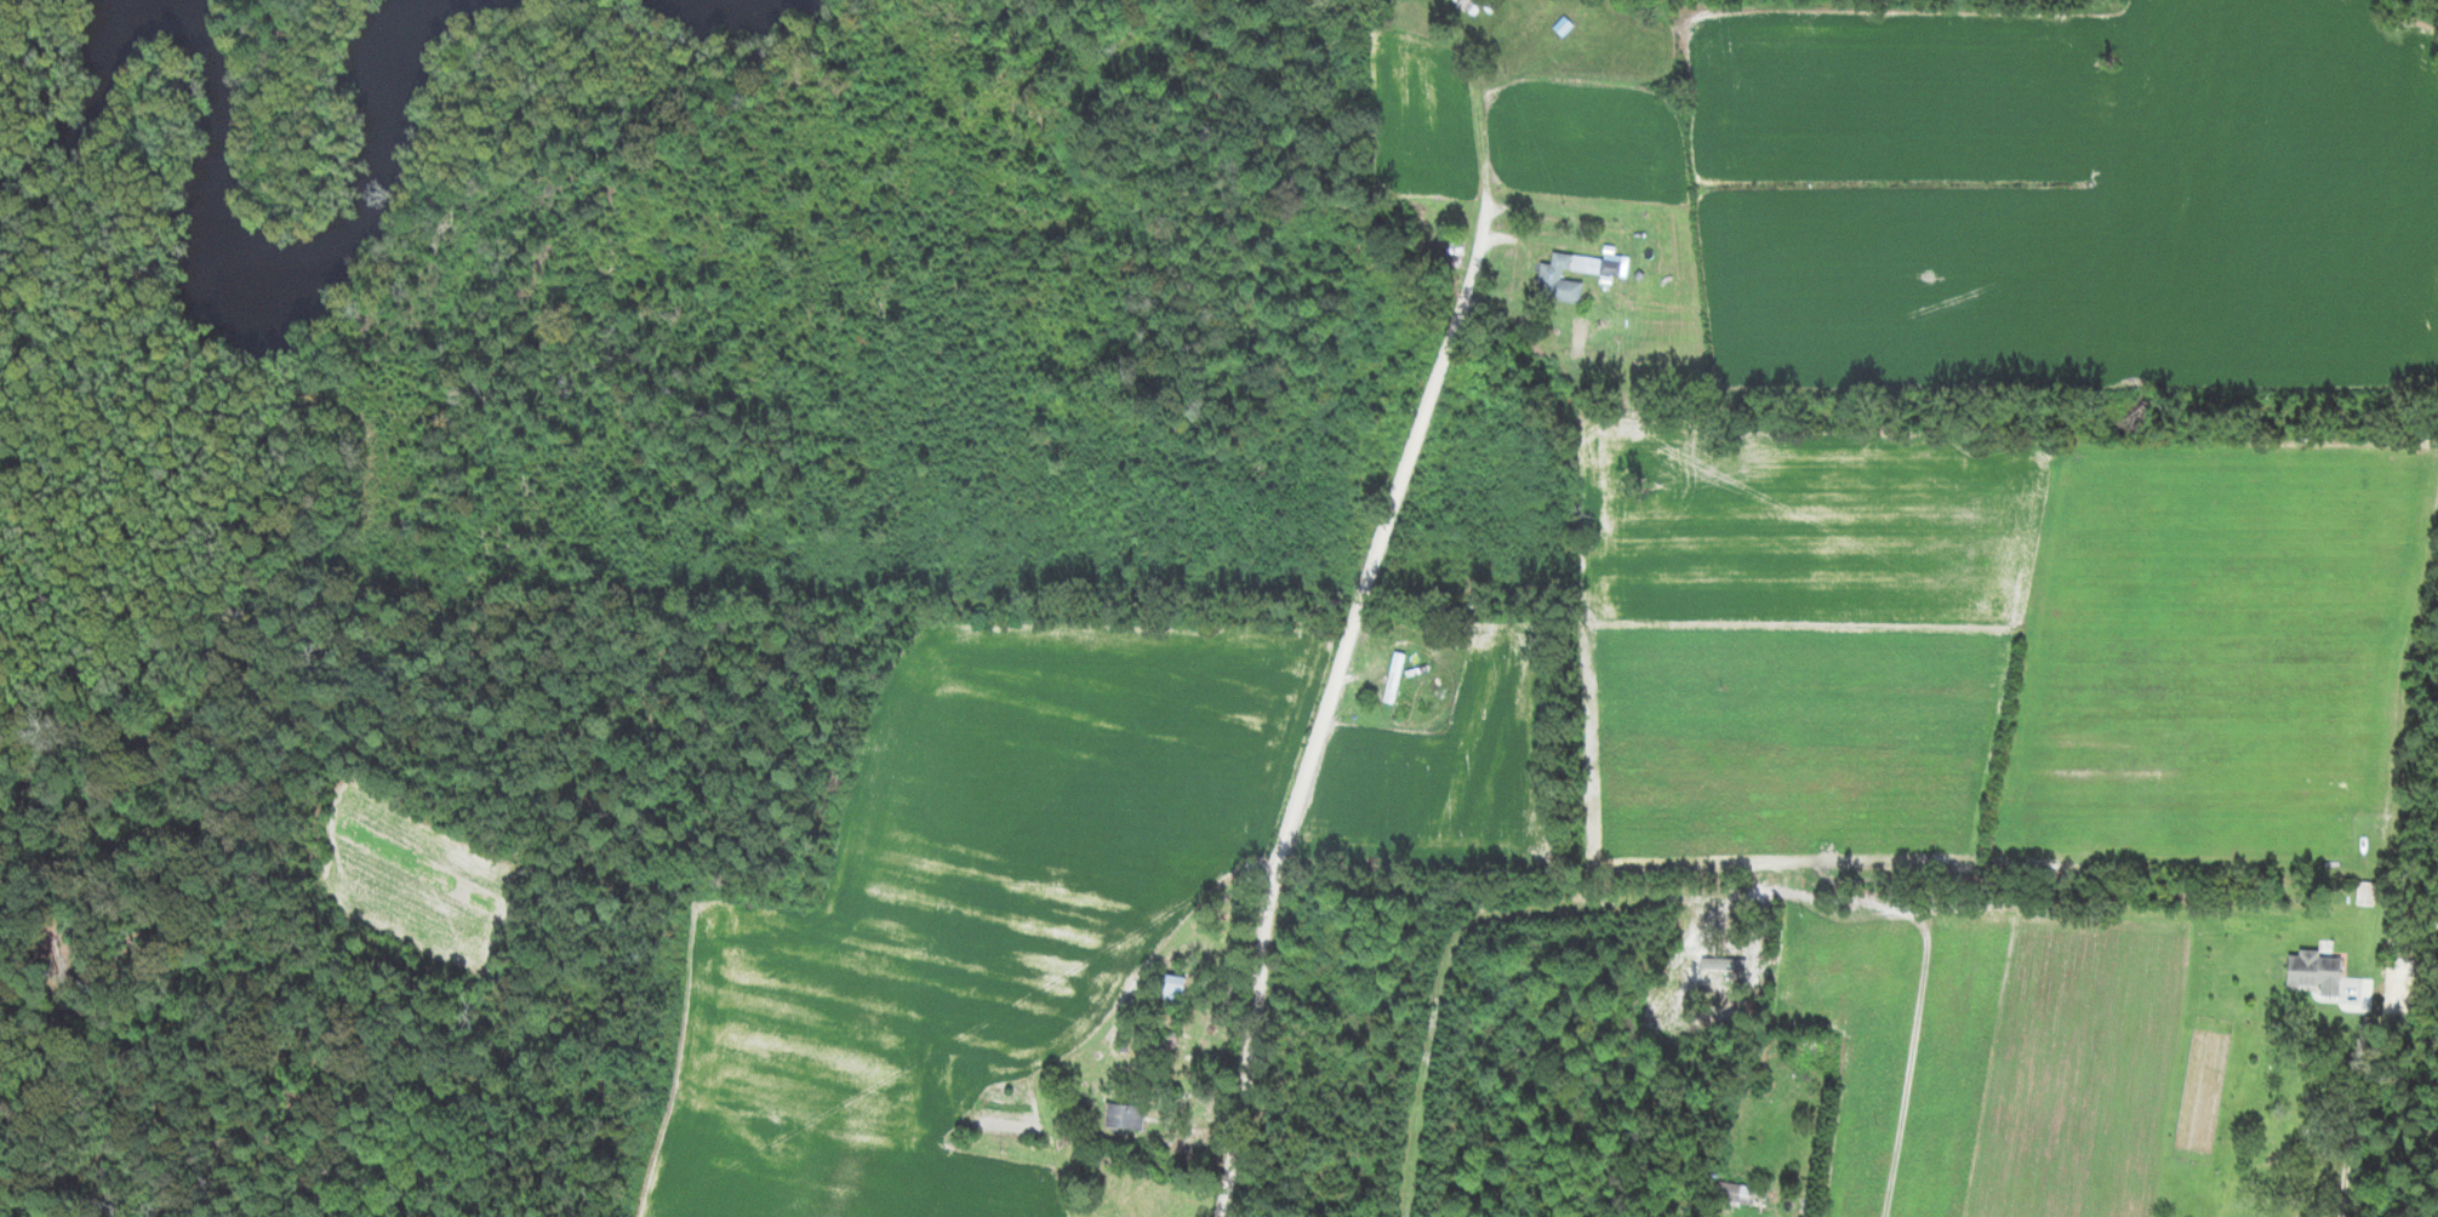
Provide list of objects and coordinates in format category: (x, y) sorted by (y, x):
building: (1475, 6)
building: (1368, 12)
building: (1452, 248)
building: (1551, 276)
road: (1357, 608)
building: (1395, 681)
building: (1175, 989)
building: (1125, 1118)
building: (1737, 1194)

